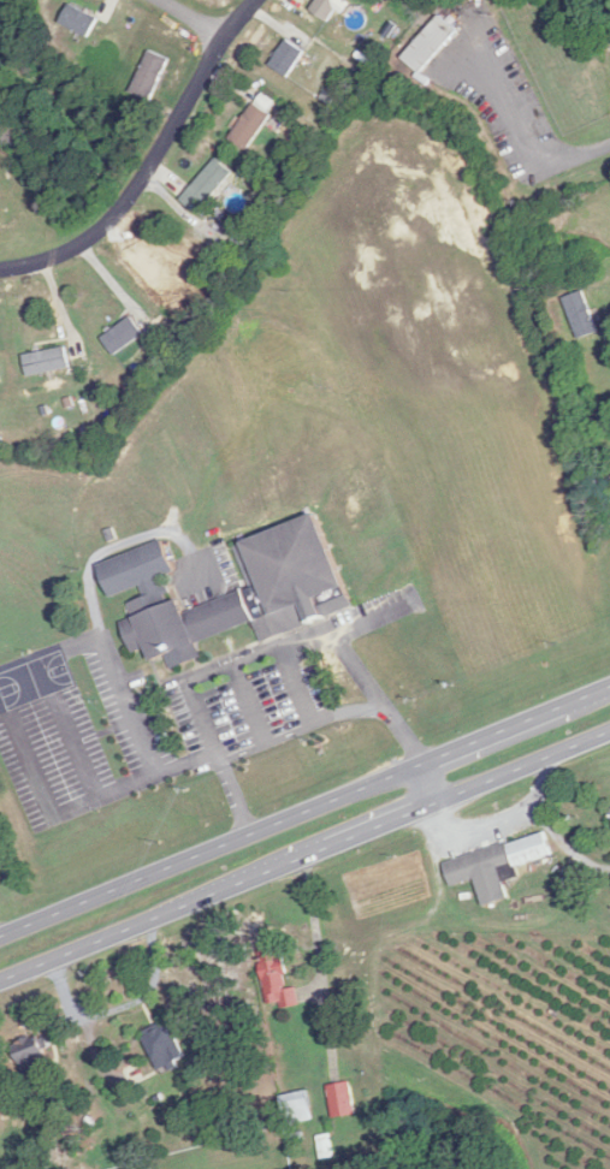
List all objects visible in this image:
building: (325, 7)
road: (189, 19)
building: (79, 20)
building: (431, 44)
building: (288, 58)
building: (150, 75)
building: (254, 120)
road: (526, 133)
road: (149, 162)
building: (207, 185)
building: (582, 315)
building: (123, 336)
building: (47, 361)
building: (0, 381)
building: (295, 592)
road: (88, 599)
road: (257, 657)
road: (301, 729)
road: (76, 748)
road: (428, 782)
road: (83, 805)
road: (306, 812)
road: (306, 855)
building: (497, 866)
road: (315, 928)
building: (278, 975)
road: (120, 1005)
building: (164, 1044)
building: (34, 1054)
building: (343, 1098)
building: (300, 1110)
building: (326, 1146)

